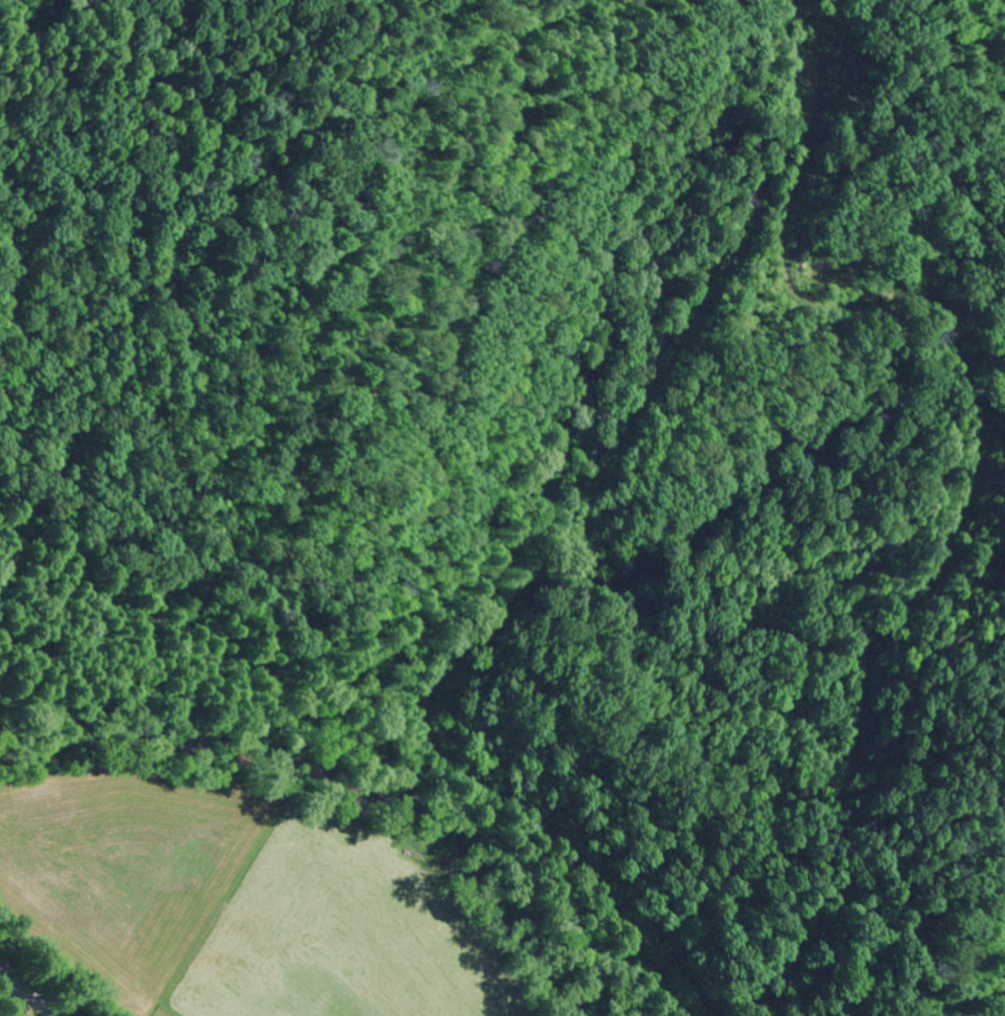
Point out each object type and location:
river: (342, 786)
road: (28, 992)

